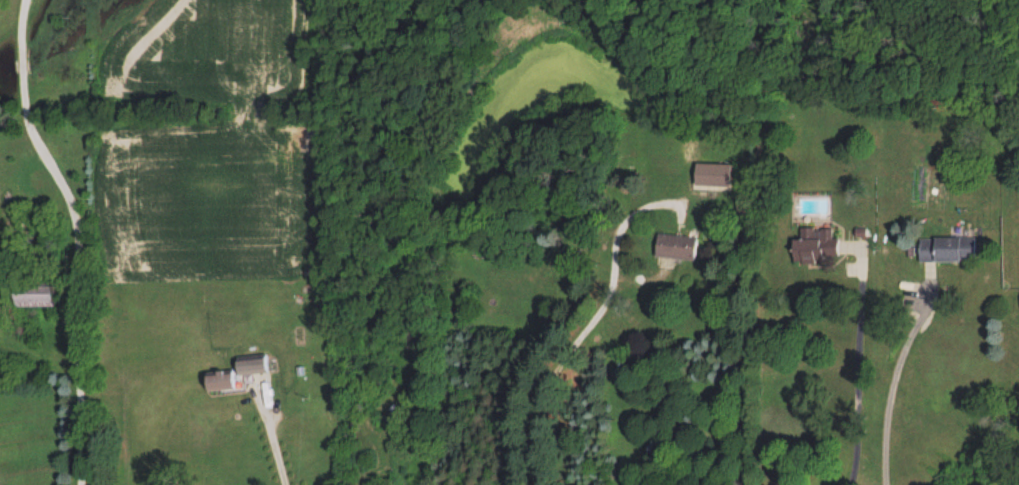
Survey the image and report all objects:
building: (714, 174)
road: (82, 235)
building: (816, 245)
building: (678, 246)
building: (949, 248)
building: (39, 294)
road: (588, 327)
building: (254, 364)
road: (853, 365)
building: (222, 379)
road: (885, 392)
road: (273, 438)

